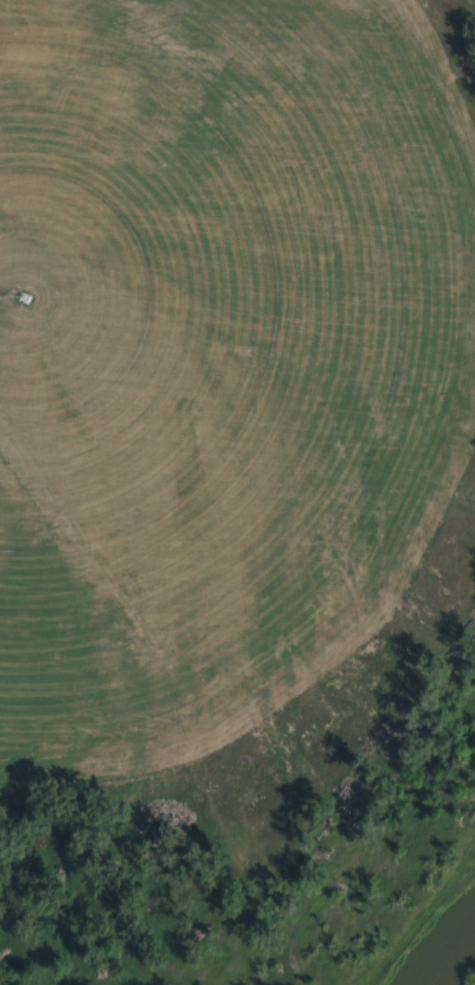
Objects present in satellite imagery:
river: (454, 956)

